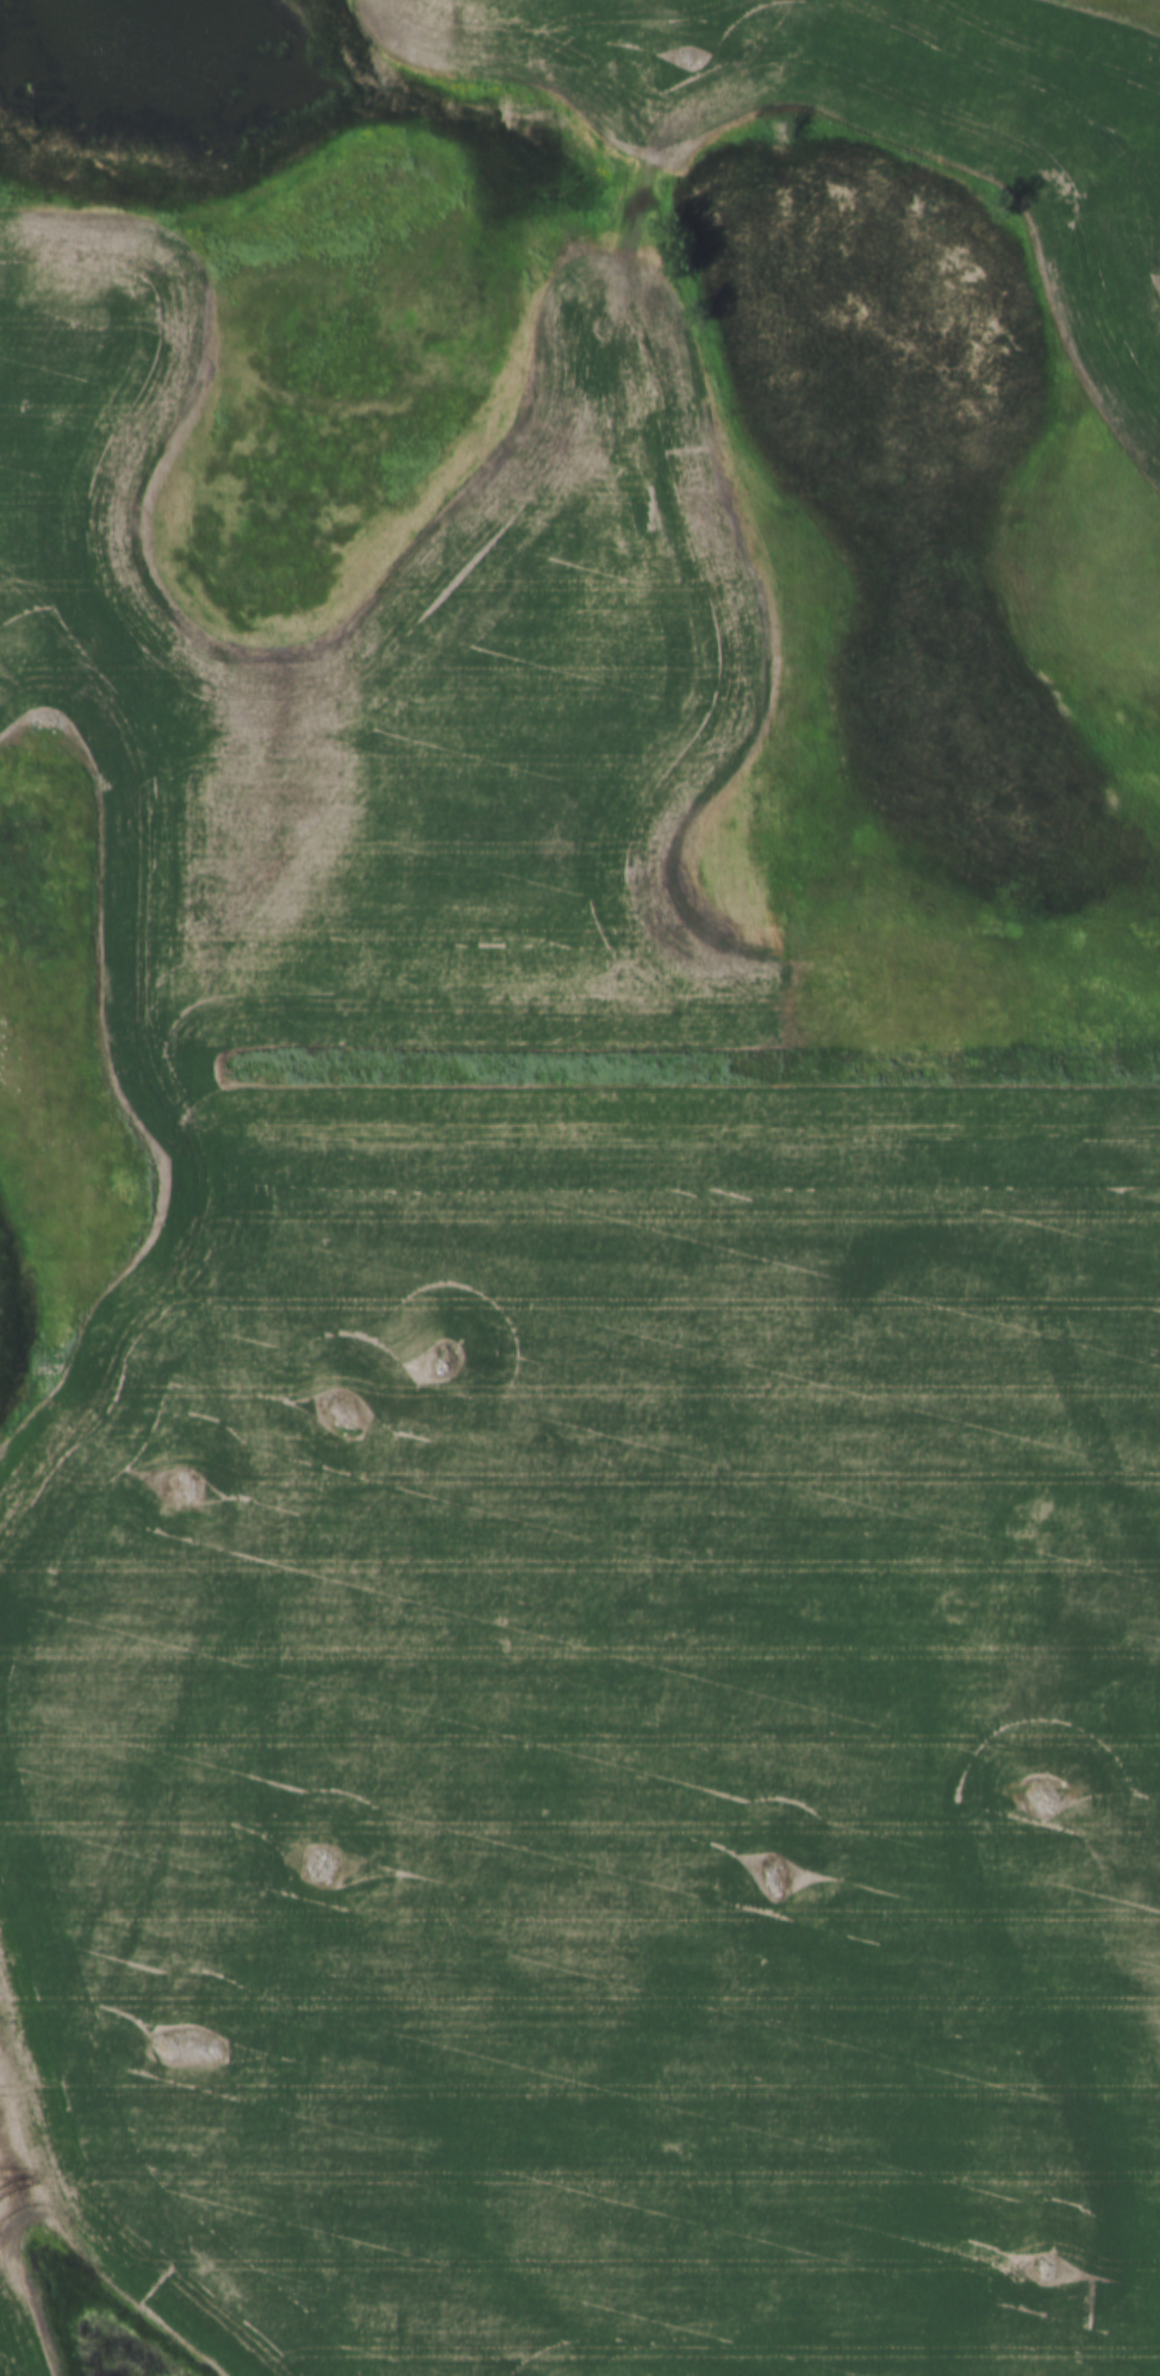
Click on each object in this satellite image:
road: (488, 1124)

